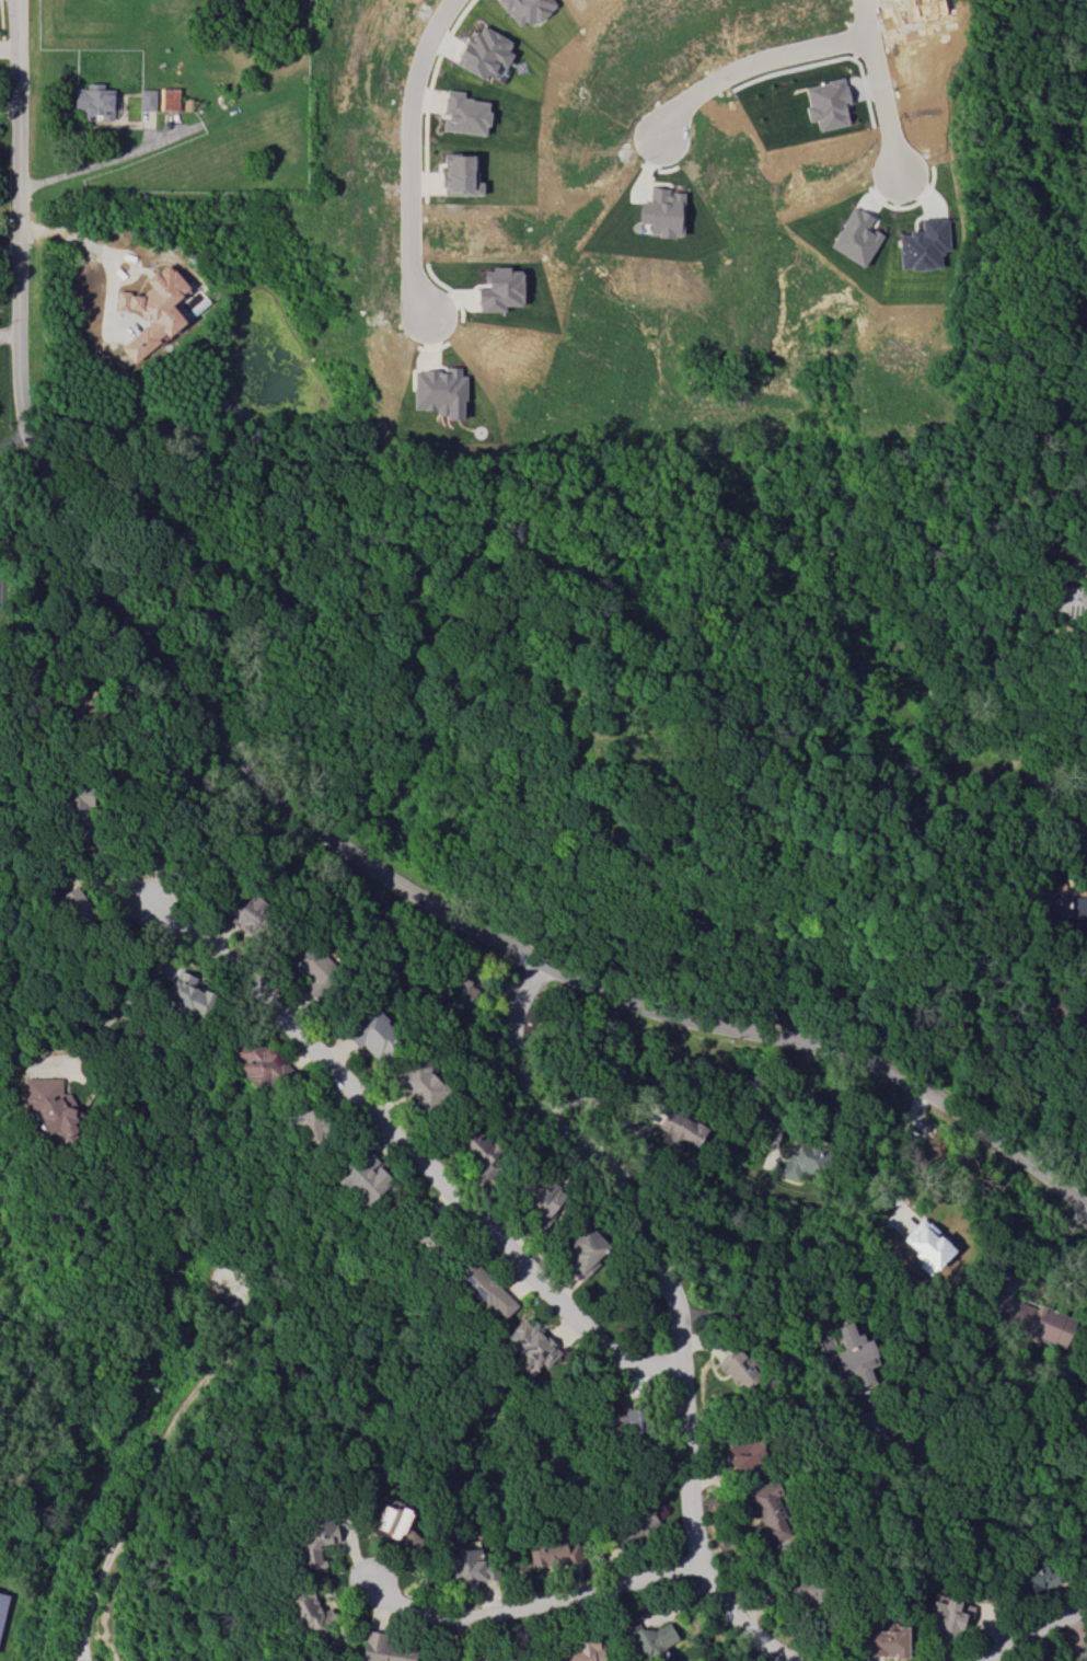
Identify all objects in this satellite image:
building: (525, 9)
building: (483, 53)
road: (750, 62)
road: (877, 86)
building: (144, 99)
building: (167, 99)
building: (92, 102)
building: (186, 103)
road: (10, 107)
building: (462, 113)
road: (407, 155)
road: (99, 161)
building: (459, 174)
building: (660, 211)
building: (854, 237)
road: (74, 244)
road: (10, 246)
building: (497, 289)
building: (152, 309)
road: (10, 331)
building: (438, 391)
road: (11, 437)
building: (1068, 599)
building: (71, 696)
building: (1086, 785)
road: (131, 795)
road: (293, 812)
building: (1060, 902)
building: (76, 908)
building: (242, 912)
building: (309, 968)
road: (128, 992)
building: (458, 992)
building: (187, 997)
building: (1075, 1002)
building: (371, 1034)
building: (258, 1062)
building: (417, 1082)
road: (788, 1099)
building: (50, 1107)
building: (309, 1124)
building: (634, 1128)
building: (677, 1128)
road: (412, 1151)
road: (902, 1152)
building: (800, 1162)
building: (362, 1177)
building: (542, 1200)
building: (925, 1246)
road: (1034, 1259)
building: (484, 1289)
road: (671, 1305)
road: (756, 1311)
building: (1038, 1323)
building: (853, 1353)
building: (735, 1370)
building: (627, 1422)
building: (866, 1423)
building: (743, 1454)
road: (148, 1460)
building: (766, 1512)
building: (390, 1520)
building: (314, 1543)
building: (551, 1552)
building: (463, 1565)
building: (1033, 1578)
building: (803, 1590)
building: (2, 1601)
road: (528, 1606)
building: (307, 1611)
building: (947, 1617)
road: (1030, 1629)
building: (647, 1638)
building: (882, 1641)
building: (382, 1649)
building: (1078, 1651)
building: (492, 1658)
building: (1034, 1660)

